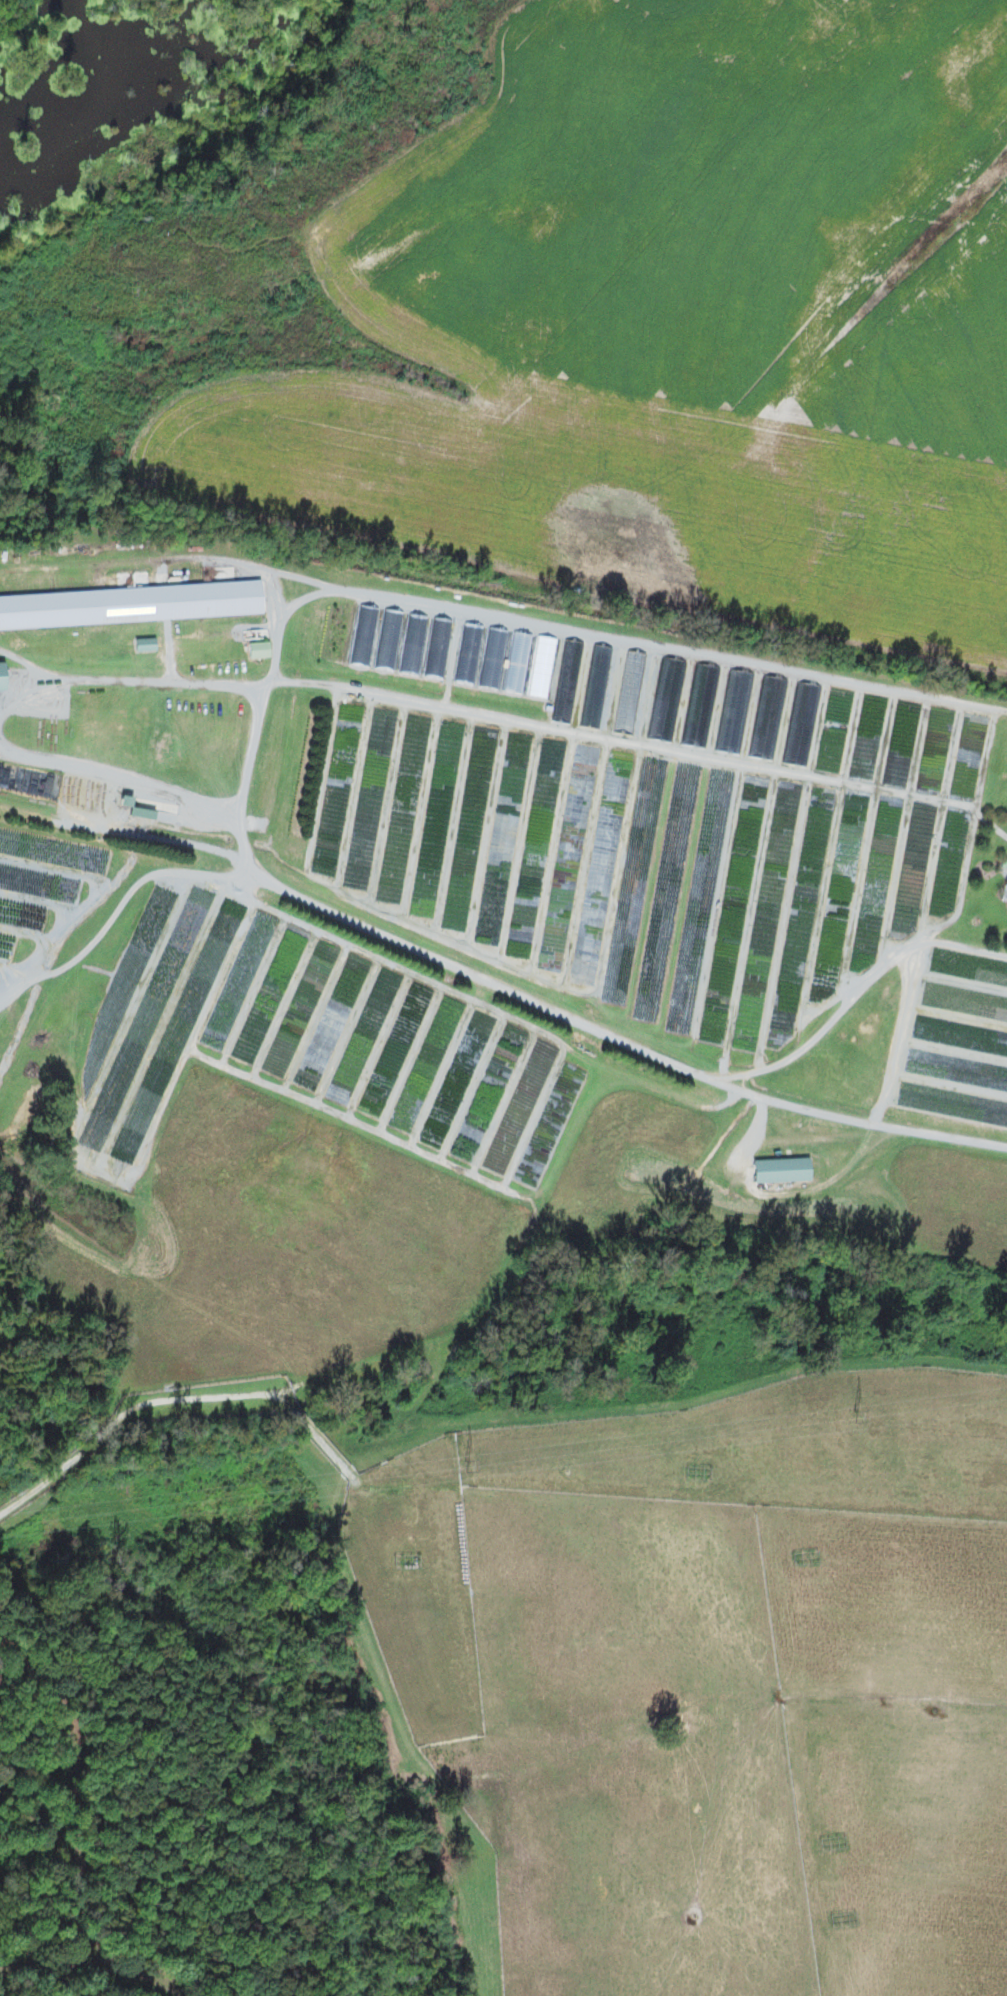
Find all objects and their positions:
building: (131, 604)
building: (147, 644)
building: (260, 651)
building: (4, 676)
building: (1004, 891)
building: (779, 1170)
power tower: (855, 1415)
power tower: (465, 1466)

